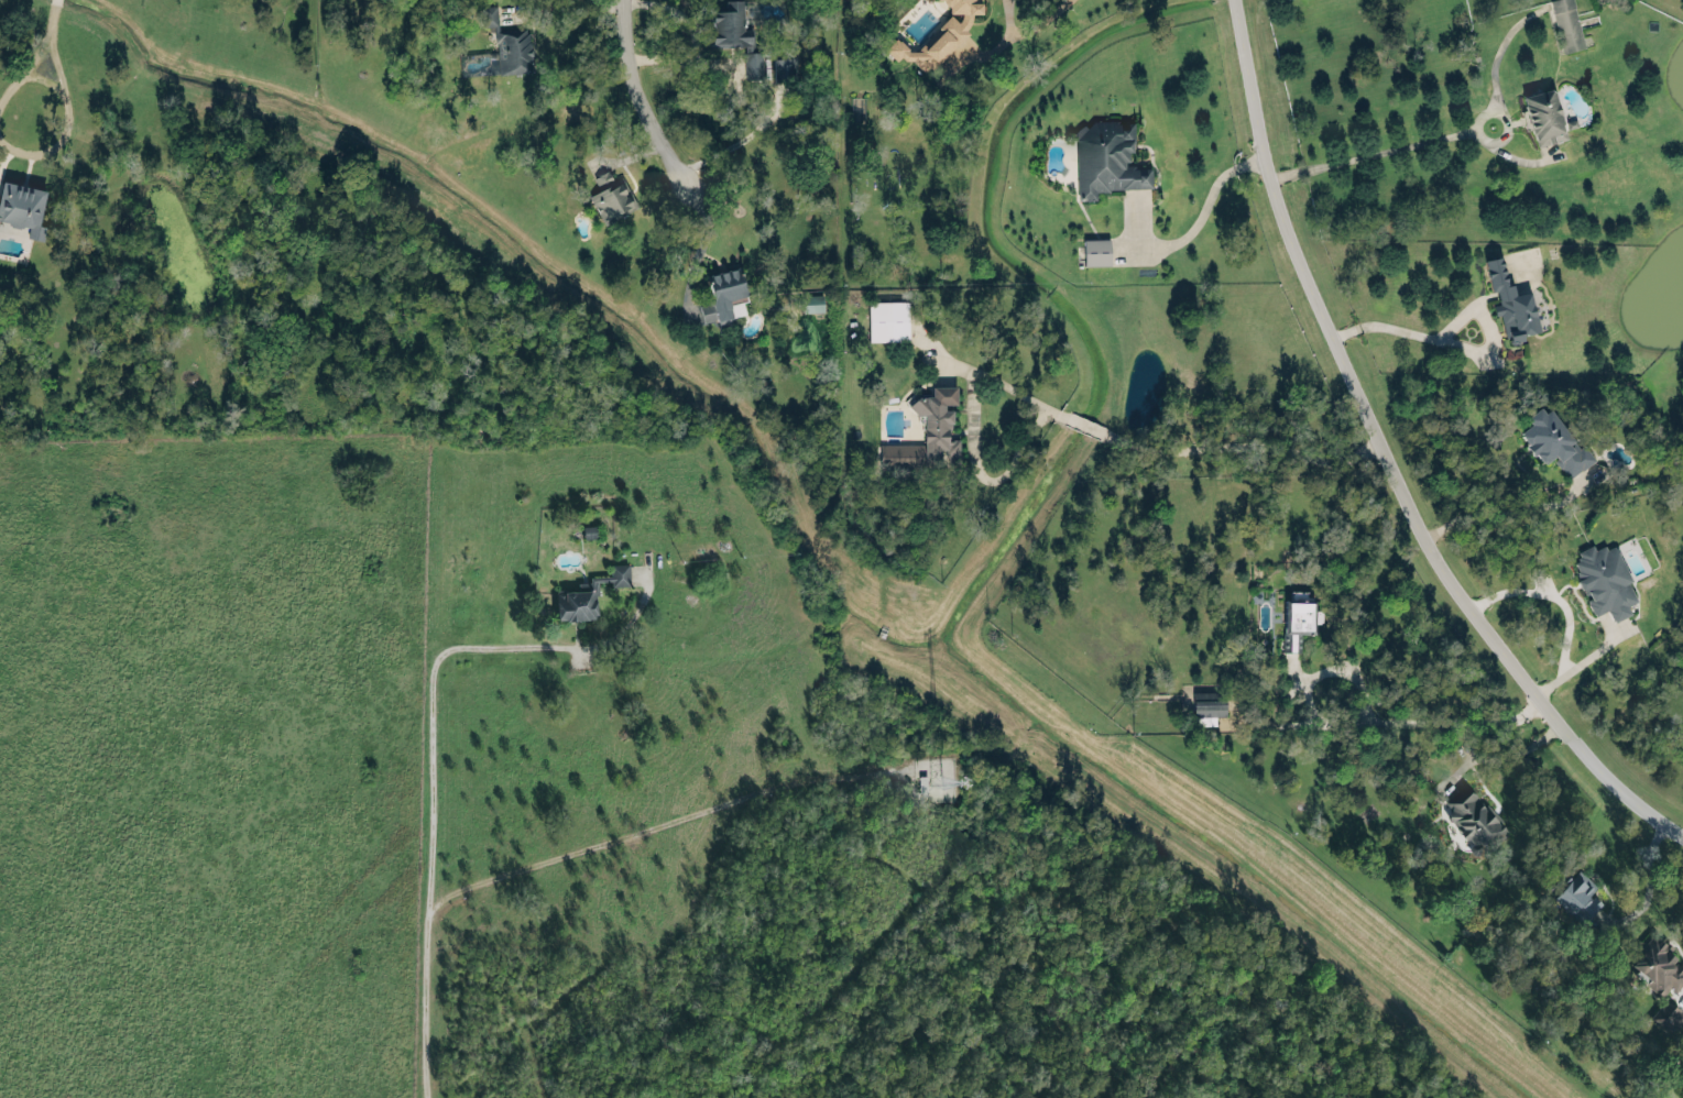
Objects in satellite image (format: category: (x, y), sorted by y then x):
road: (597, 6)
road: (527, 9)
road: (52, 17)
building: (1566, 24)
road: (1031, 26)
building: (938, 35)
road: (693, 36)
building: (507, 43)
road: (1497, 54)
building: (753, 64)
building: (784, 64)
road: (25, 68)
road: (640, 102)
building: (1543, 116)
road: (66, 119)
road: (736, 141)
road: (1380, 151)
building: (1106, 157)
building: (611, 196)
road: (1206, 204)
building: (22, 206)
building: (1096, 251)
building: (724, 294)
building: (812, 301)
building: (1509, 301)
building: (887, 319)
road: (1400, 327)
road: (1073, 418)
building: (927, 432)
building: (1552, 441)
road: (1387, 458)
road: (1510, 508)
building: (1604, 579)
road: (1553, 595)
building: (589, 597)
building: (1297, 622)
road: (1583, 659)
road: (1359, 720)
road: (433, 747)
road: (1507, 748)
building: (1475, 823)
road: (1649, 883)
building: (1577, 899)
building: (1659, 968)
building: (1668, 1019)

